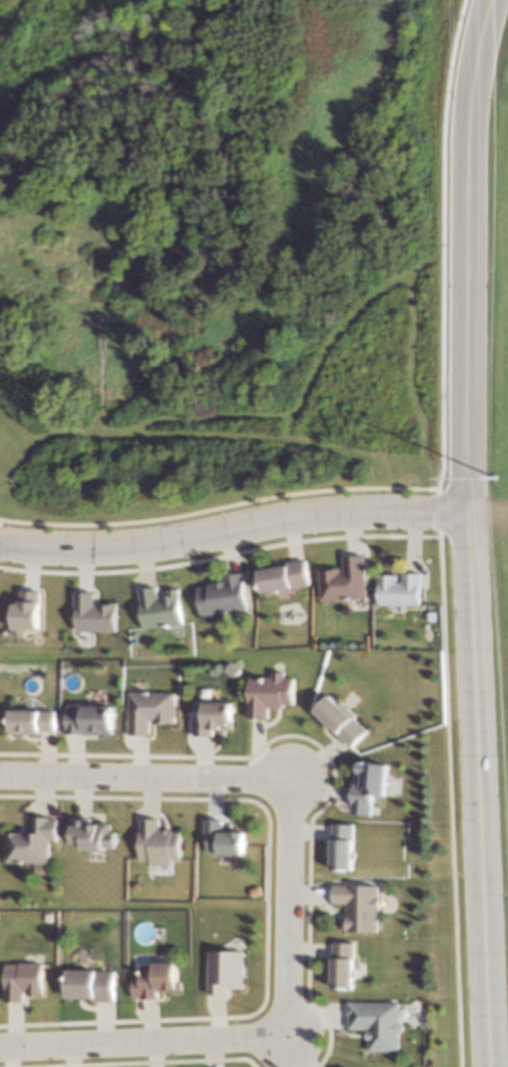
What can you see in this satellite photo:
road: (3, 7)
road: (433, 233)
road: (463, 255)
park: (218, 256)
road: (329, 325)
road: (400, 364)
road: (12, 435)
road: (210, 436)
power tower: (494, 485)
road: (231, 527)
building: (283, 577)
building: (343, 580)
building: (398, 590)
building: (222, 596)
building: (158, 608)
building: (24, 612)
building: (91, 614)
building: (268, 693)
park: (498, 705)
building: (148, 711)
building: (211, 718)
building: (87, 720)
building: (340, 720)
building: (31, 722)
road: (139, 778)
building: (367, 786)
road: (473, 789)
building: (91, 834)
building: (220, 838)
building: (31, 842)
building: (157, 843)
building: (341, 846)
road: (279, 902)
building: (357, 907)
building: (341, 965)
building: (223, 971)
building: (23, 980)
building: (154, 980)
building: (89, 985)
building: (375, 1024)
road: (141, 1041)

